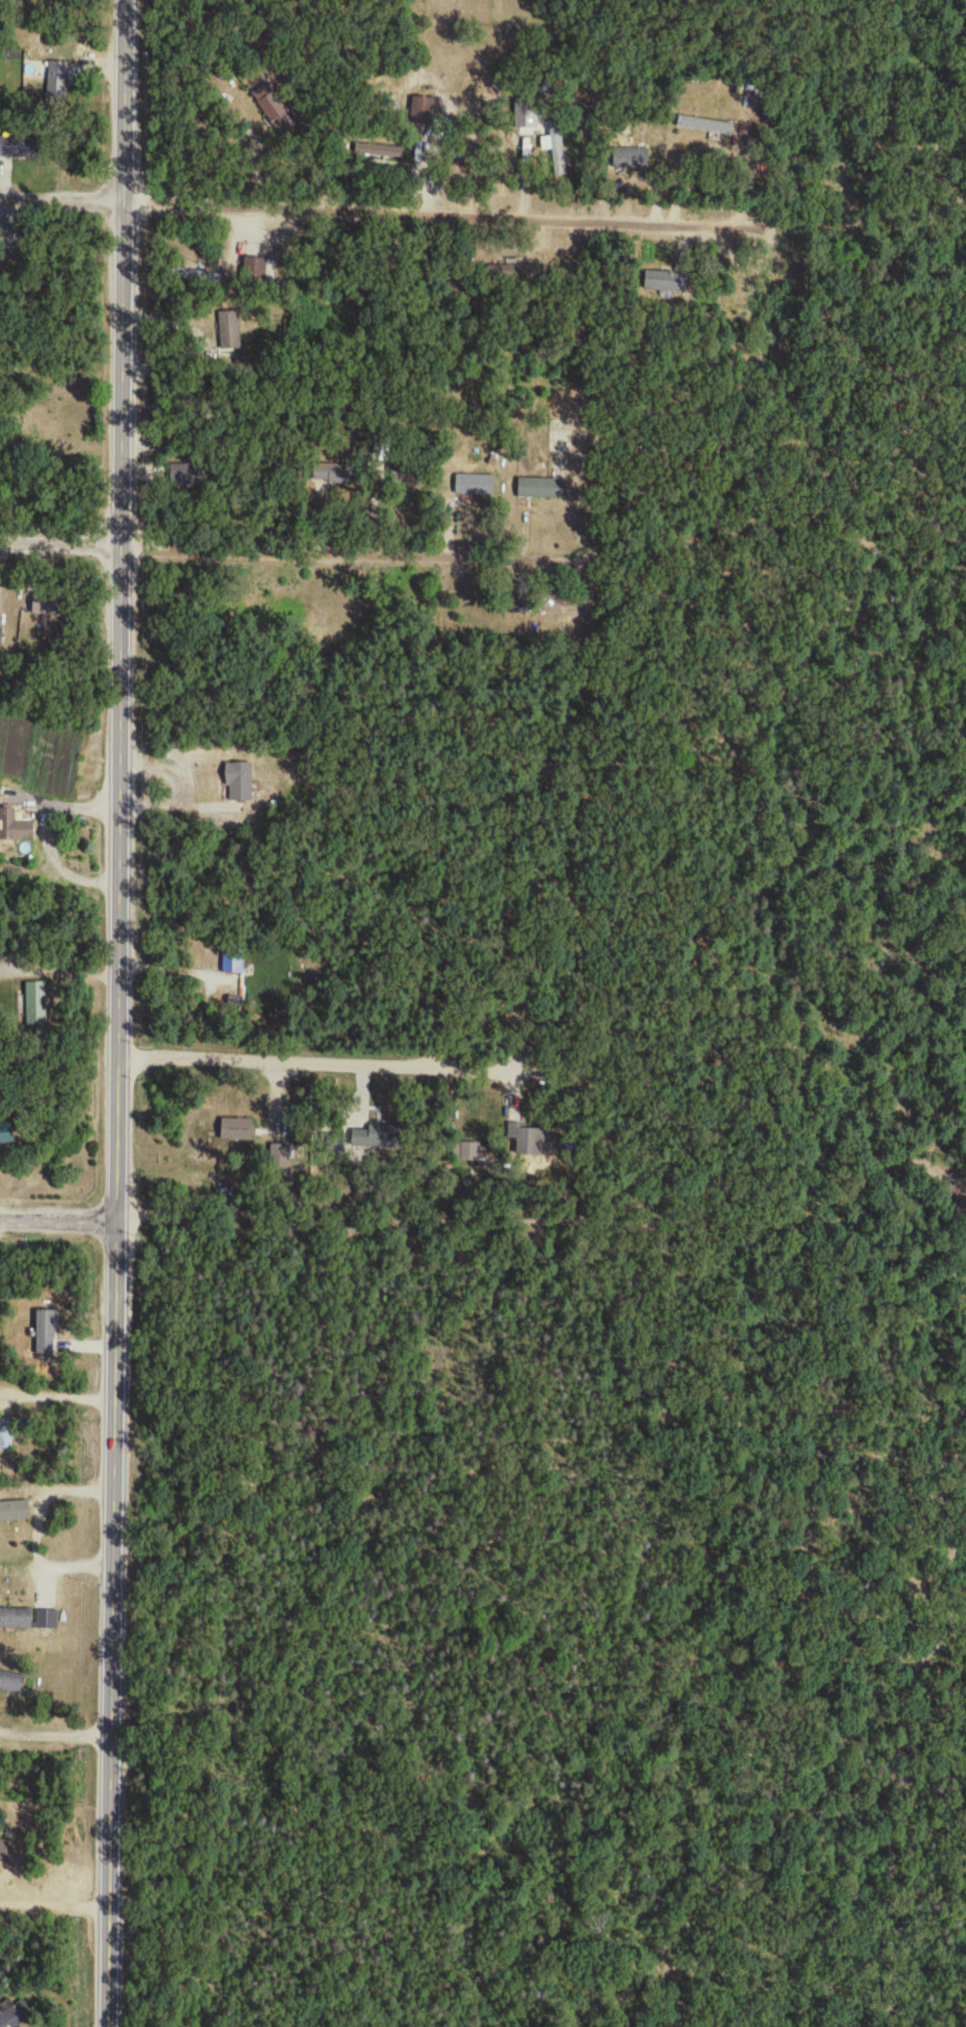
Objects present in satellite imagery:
road: (547, 34)
building: (58, 82)
building: (274, 107)
building: (706, 125)
building: (19, 147)
building: (556, 147)
building: (377, 150)
building: (631, 158)
road: (62, 199)
road: (459, 215)
building: (256, 270)
building: (198, 276)
building: (667, 282)
building: (230, 330)
road: (334, 363)
building: (335, 475)
building: (475, 487)
building: (541, 489)
road: (284, 560)
building: (1, 637)
building: (240, 783)
road: (61, 808)
building: (15, 828)
building: (233, 960)
road: (175, 972)
building: (37, 1005)
road: (121, 1013)
road: (313, 1065)
building: (6, 1134)
building: (378, 1136)
building: (527, 1140)
road: (542, 1215)
road: (59, 1221)
building: (46, 1333)
road: (58, 1389)
building: (6, 1435)
building: (14, 1513)
road: (36, 1530)
building: (28, 1620)
building: (12, 1685)
road: (57, 1734)
building: (4, 1851)
road: (57, 1908)
building: (11, 2016)

